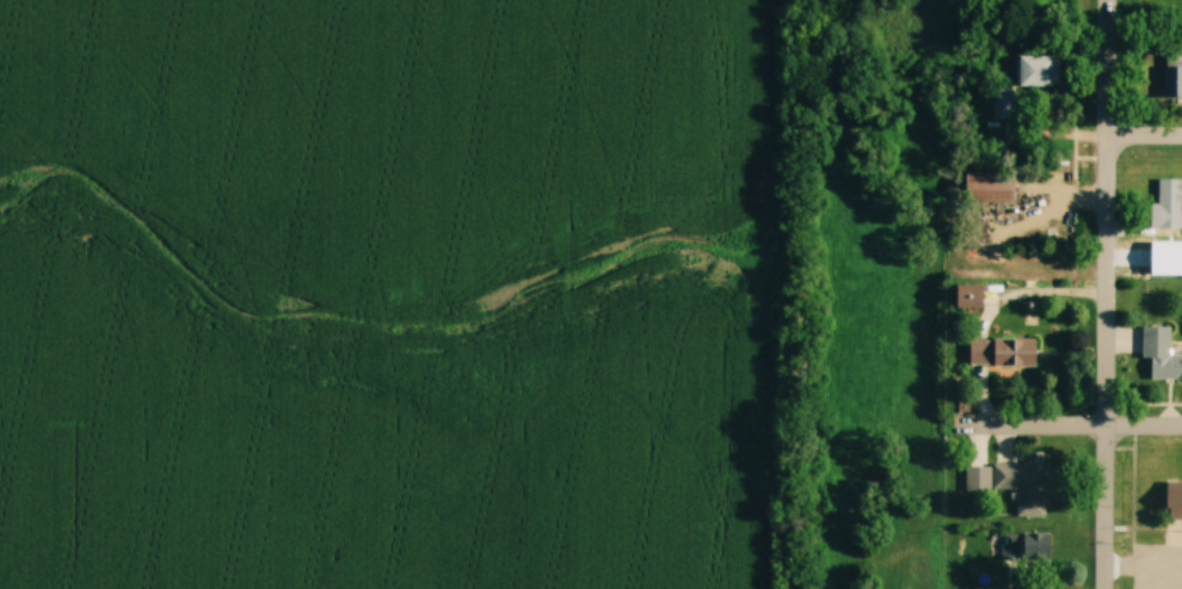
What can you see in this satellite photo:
building: (1034, 72)
building: (1172, 76)
building: (1003, 105)
road: (1146, 139)
building: (990, 189)
building: (1168, 205)
road: (1109, 294)
building: (969, 296)
building: (1002, 352)
building: (1161, 354)
road: (981, 363)
road: (1145, 427)
building: (978, 477)
building: (1026, 487)
building: (1174, 502)
building: (1035, 548)
road: (1137, 564)

